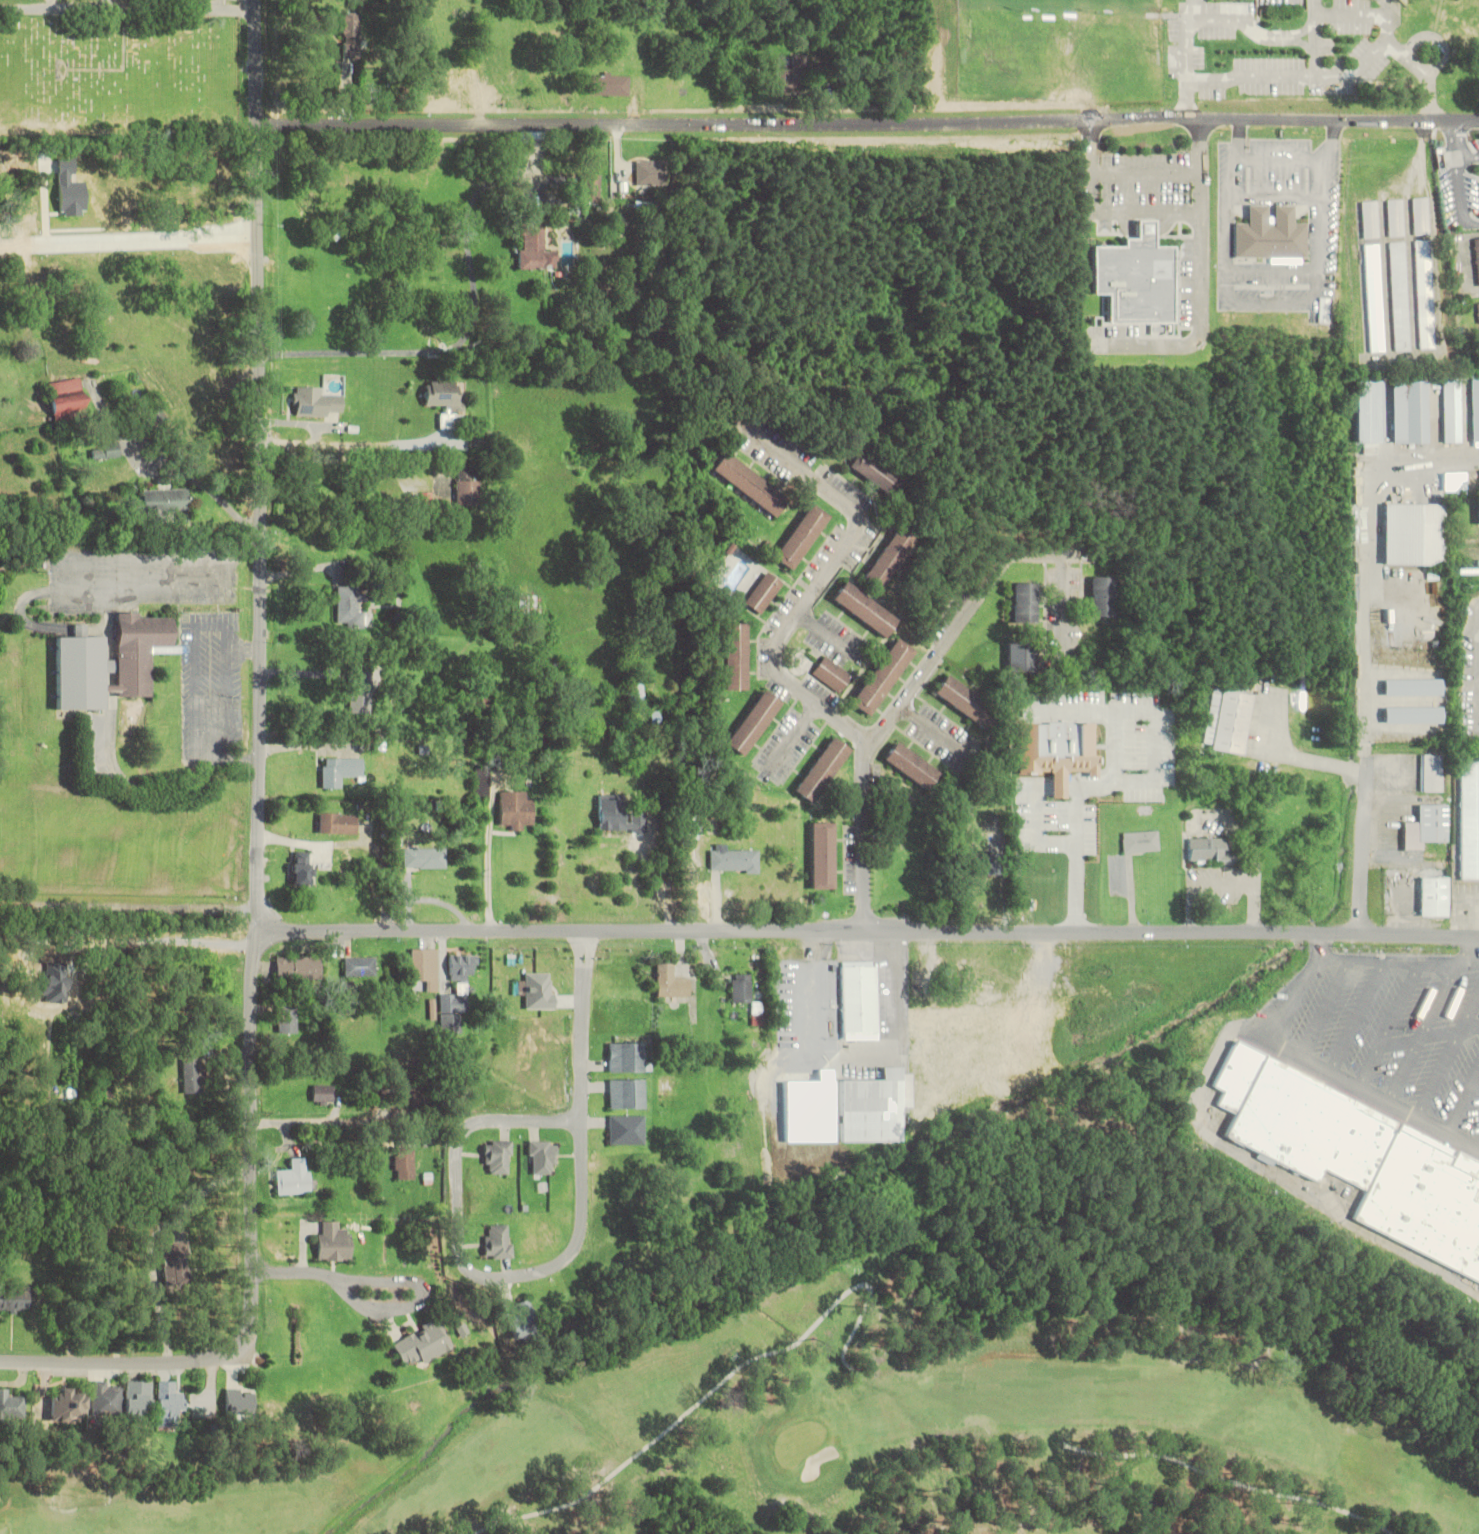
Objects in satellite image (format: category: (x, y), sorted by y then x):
building: (351, 36)
building: (792, 75)
building: (453, 82)
building: (609, 84)
road: (869, 130)
building: (651, 173)
building: (591, 186)
building: (1464, 202)
building: (1421, 216)
building: (1395, 217)
building: (1369, 218)
building: (1269, 234)
building: (535, 246)
building: (1477, 256)
building: (1132, 281)
building: (1426, 294)
building: (1400, 296)
building: (1374, 297)
building: (1478, 306)
building: (67, 399)
building: (446, 399)
building: (315, 402)
building: (1452, 410)
building: (1475, 410)
building: (1410, 412)
building: (1368, 416)
building: (158, 417)
building: (106, 450)
building: (873, 472)
building: (749, 483)
building: (1455, 483)
building: (468, 486)
building: (166, 501)
building: (1413, 533)
building: (801, 535)
building: (889, 559)
road: (1001, 566)
road: (816, 584)
building: (763, 592)
building: (1102, 596)
building: (1025, 602)
building: (351, 606)
building: (864, 608)
building: (736, 655)
building: (1019, 656)
building: (110, 662)
building: (832, 674)
building: (883, 676)
building: (358, 685)
building: (1412, 687)
building: (637, 699)
building: (967, 702)
building: (1413, 715)
building: (655, 717)
building: (1228, 720)
building: (753, 722)
road: (888, 727)
road: (934, 732)
building: (1028, 741)
building: (911, 765)
building: (1045, 766)
building: (338, 769)
building: (822, 769)
building: (1432, 773)
building: (482, 792)
road: (255, 796)
building: (516, 810)
building: (1048, 811)
building: (611, 812)
building: (1470, 815)
building: (337, 823)
building: (1426, 827)
road: (864, 836)
building: (1140, 841)
building: (1209, 850)
building: (823, 854)
building: (424, 857)
building: (734, 860)
building: (982, 863)
building: (300, 867)
building: (1434, 897)
road: (867, 929)
road: (1475, 948)
road: (1386, 960)
building: (360, 966)
building: (424, 966)
building: (298, 967)
building: (461, 967)
building: (669, 981)
building: (538, 990)
building: (859, 1001)
road: (1297, 1001)
road: (1327, 1009)
building: (451, 1011)
road: (1359, 1017)
building: (287, 1021)
road: (1390, 1024)
road: (1472, 1024)
road: (1423, 1032)
parking lot: (1392, 1035)
road: (1420, 1040)
road: (1449, 1056)
building: (626, 1057)
building: (192, 1072)
building: (666, 1085)
building: (626, 1093)
building: (323, 1094)
road: (1375, 1096)
road: (1465, 1106)
building: (1281, 1108)
building: (846, 1109)
road: (322, 1125)
building: (626, 1129)
building: (1362, 1142)
building: (498, 1156)
building: (542, 1156)
building: (404, 1162)
building: (183, 1170)
building: (296, 1179)
building: (1426, 1198)
building: (333, 1241)
building: (497, 1241)
building: (175, 1265)
road: (548, 1266)
building: (15, 1298)
building: (522, 1319)
building: (421, 1343)
building: (139, 1398)
building: (107, 1399)
park: (872, 1399)
building: (170, 1401)
building: (240, 1401)
building: (67, 1404)
building: (12, 1405)

